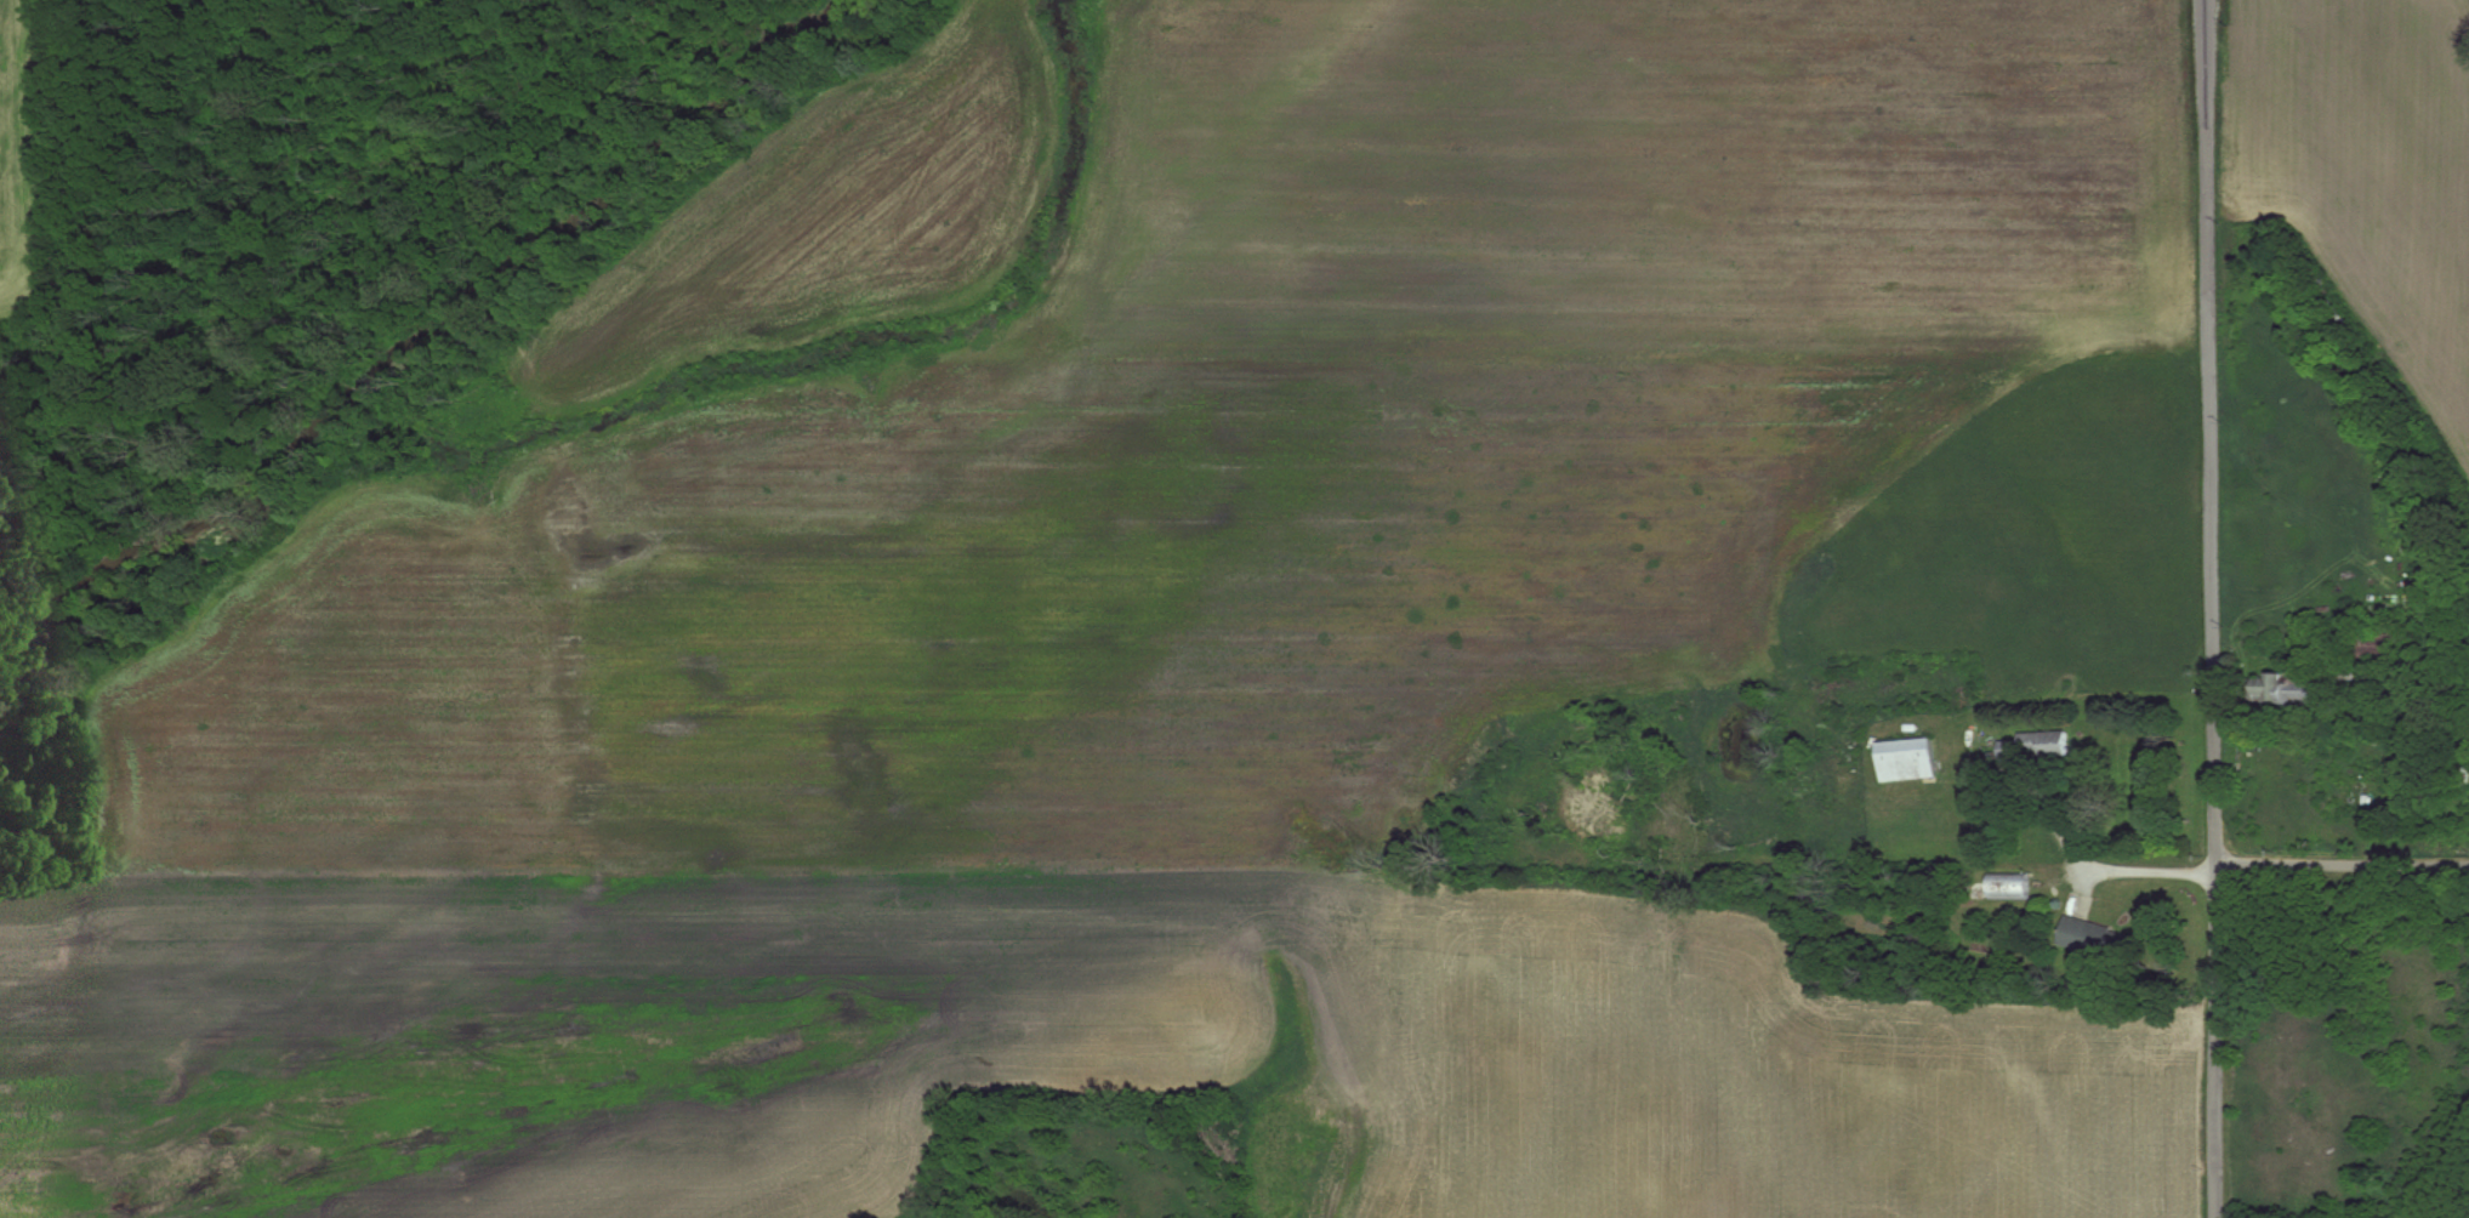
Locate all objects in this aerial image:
road: (2214, 608)
building: (2382, 649)
building: (2281, 690)
building: (2038, 746)
building: (1910, 759)
road: (2343, 863)
road: (2094, 869)
building: (2012, 887)
building: (2100, 941)

